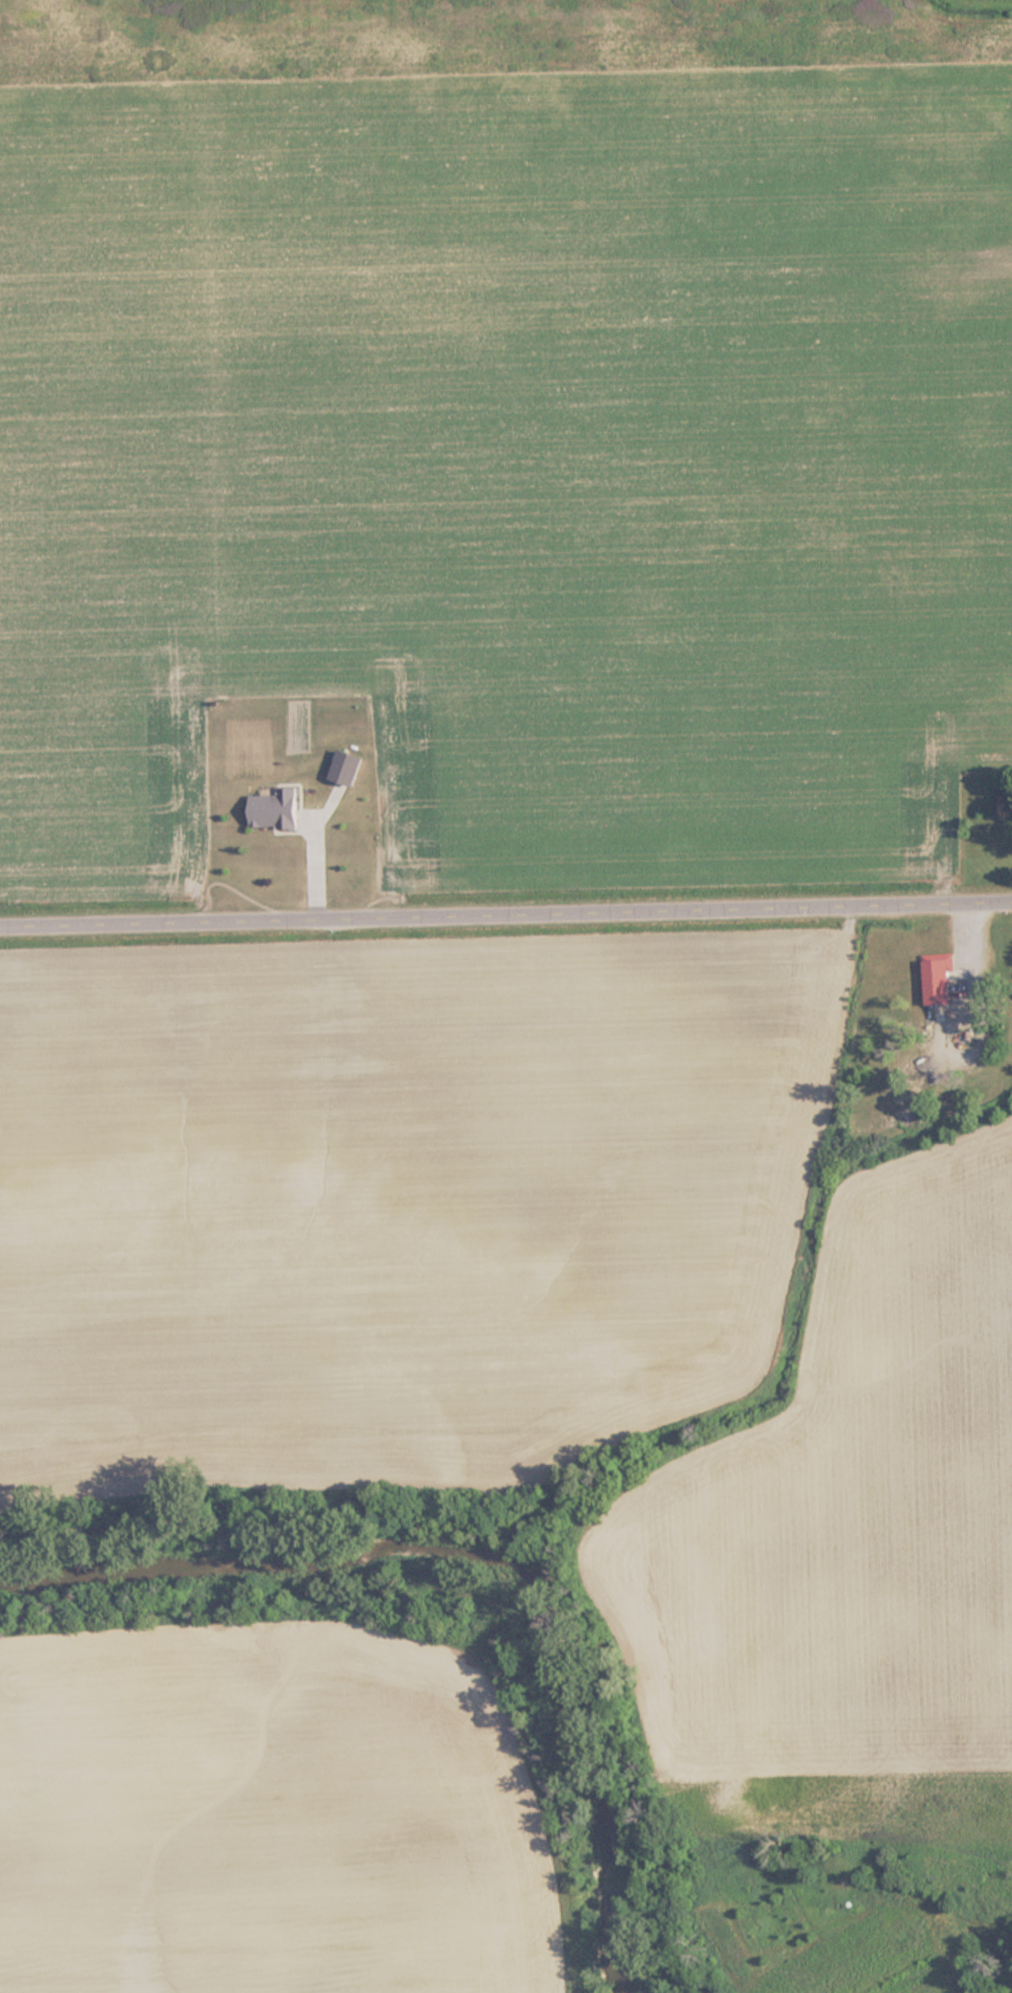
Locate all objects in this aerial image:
building: (275, 810)
road: (506, 913)
building: (966, 972)

